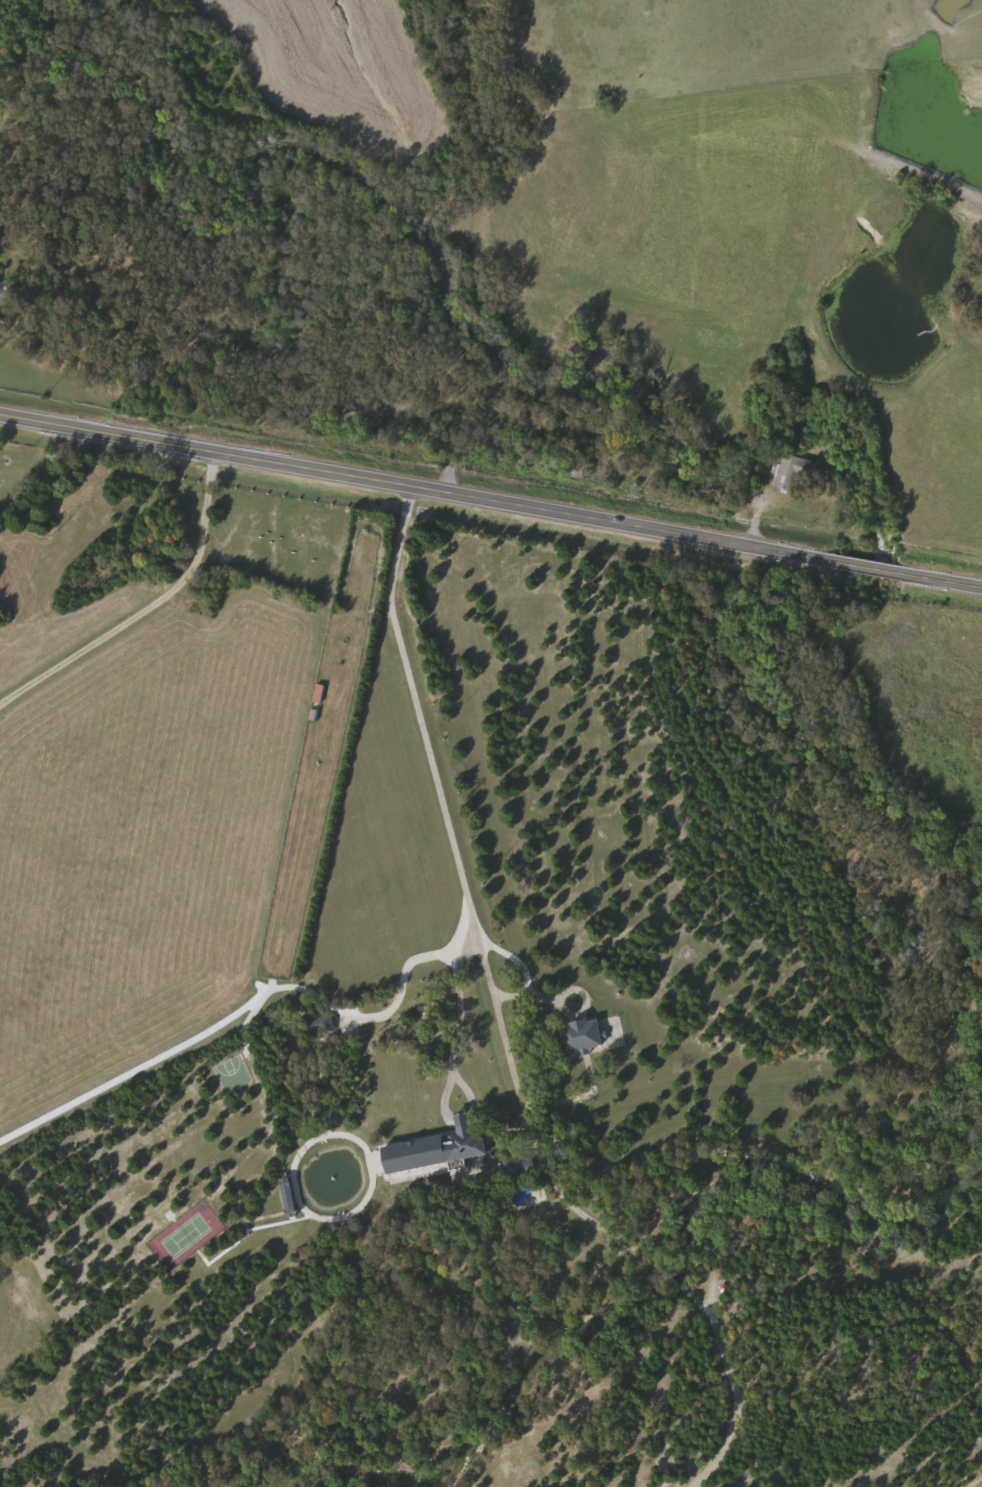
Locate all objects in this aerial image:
building: (795, 470)
building: (12, 471)
road: (878, 491)
road: (491, 495)
road: (148, 604)
road: (423, 713)
road: (525, 769)
road: (623, 811)
road: (465, 916)
road: (525, 946)
road: (403, 982)
road: (460, 993)
building: (581, 1033)
road: (174, 1049)
building: (464, 1143)
building: (516, 1173)
road: (608, 1230)

